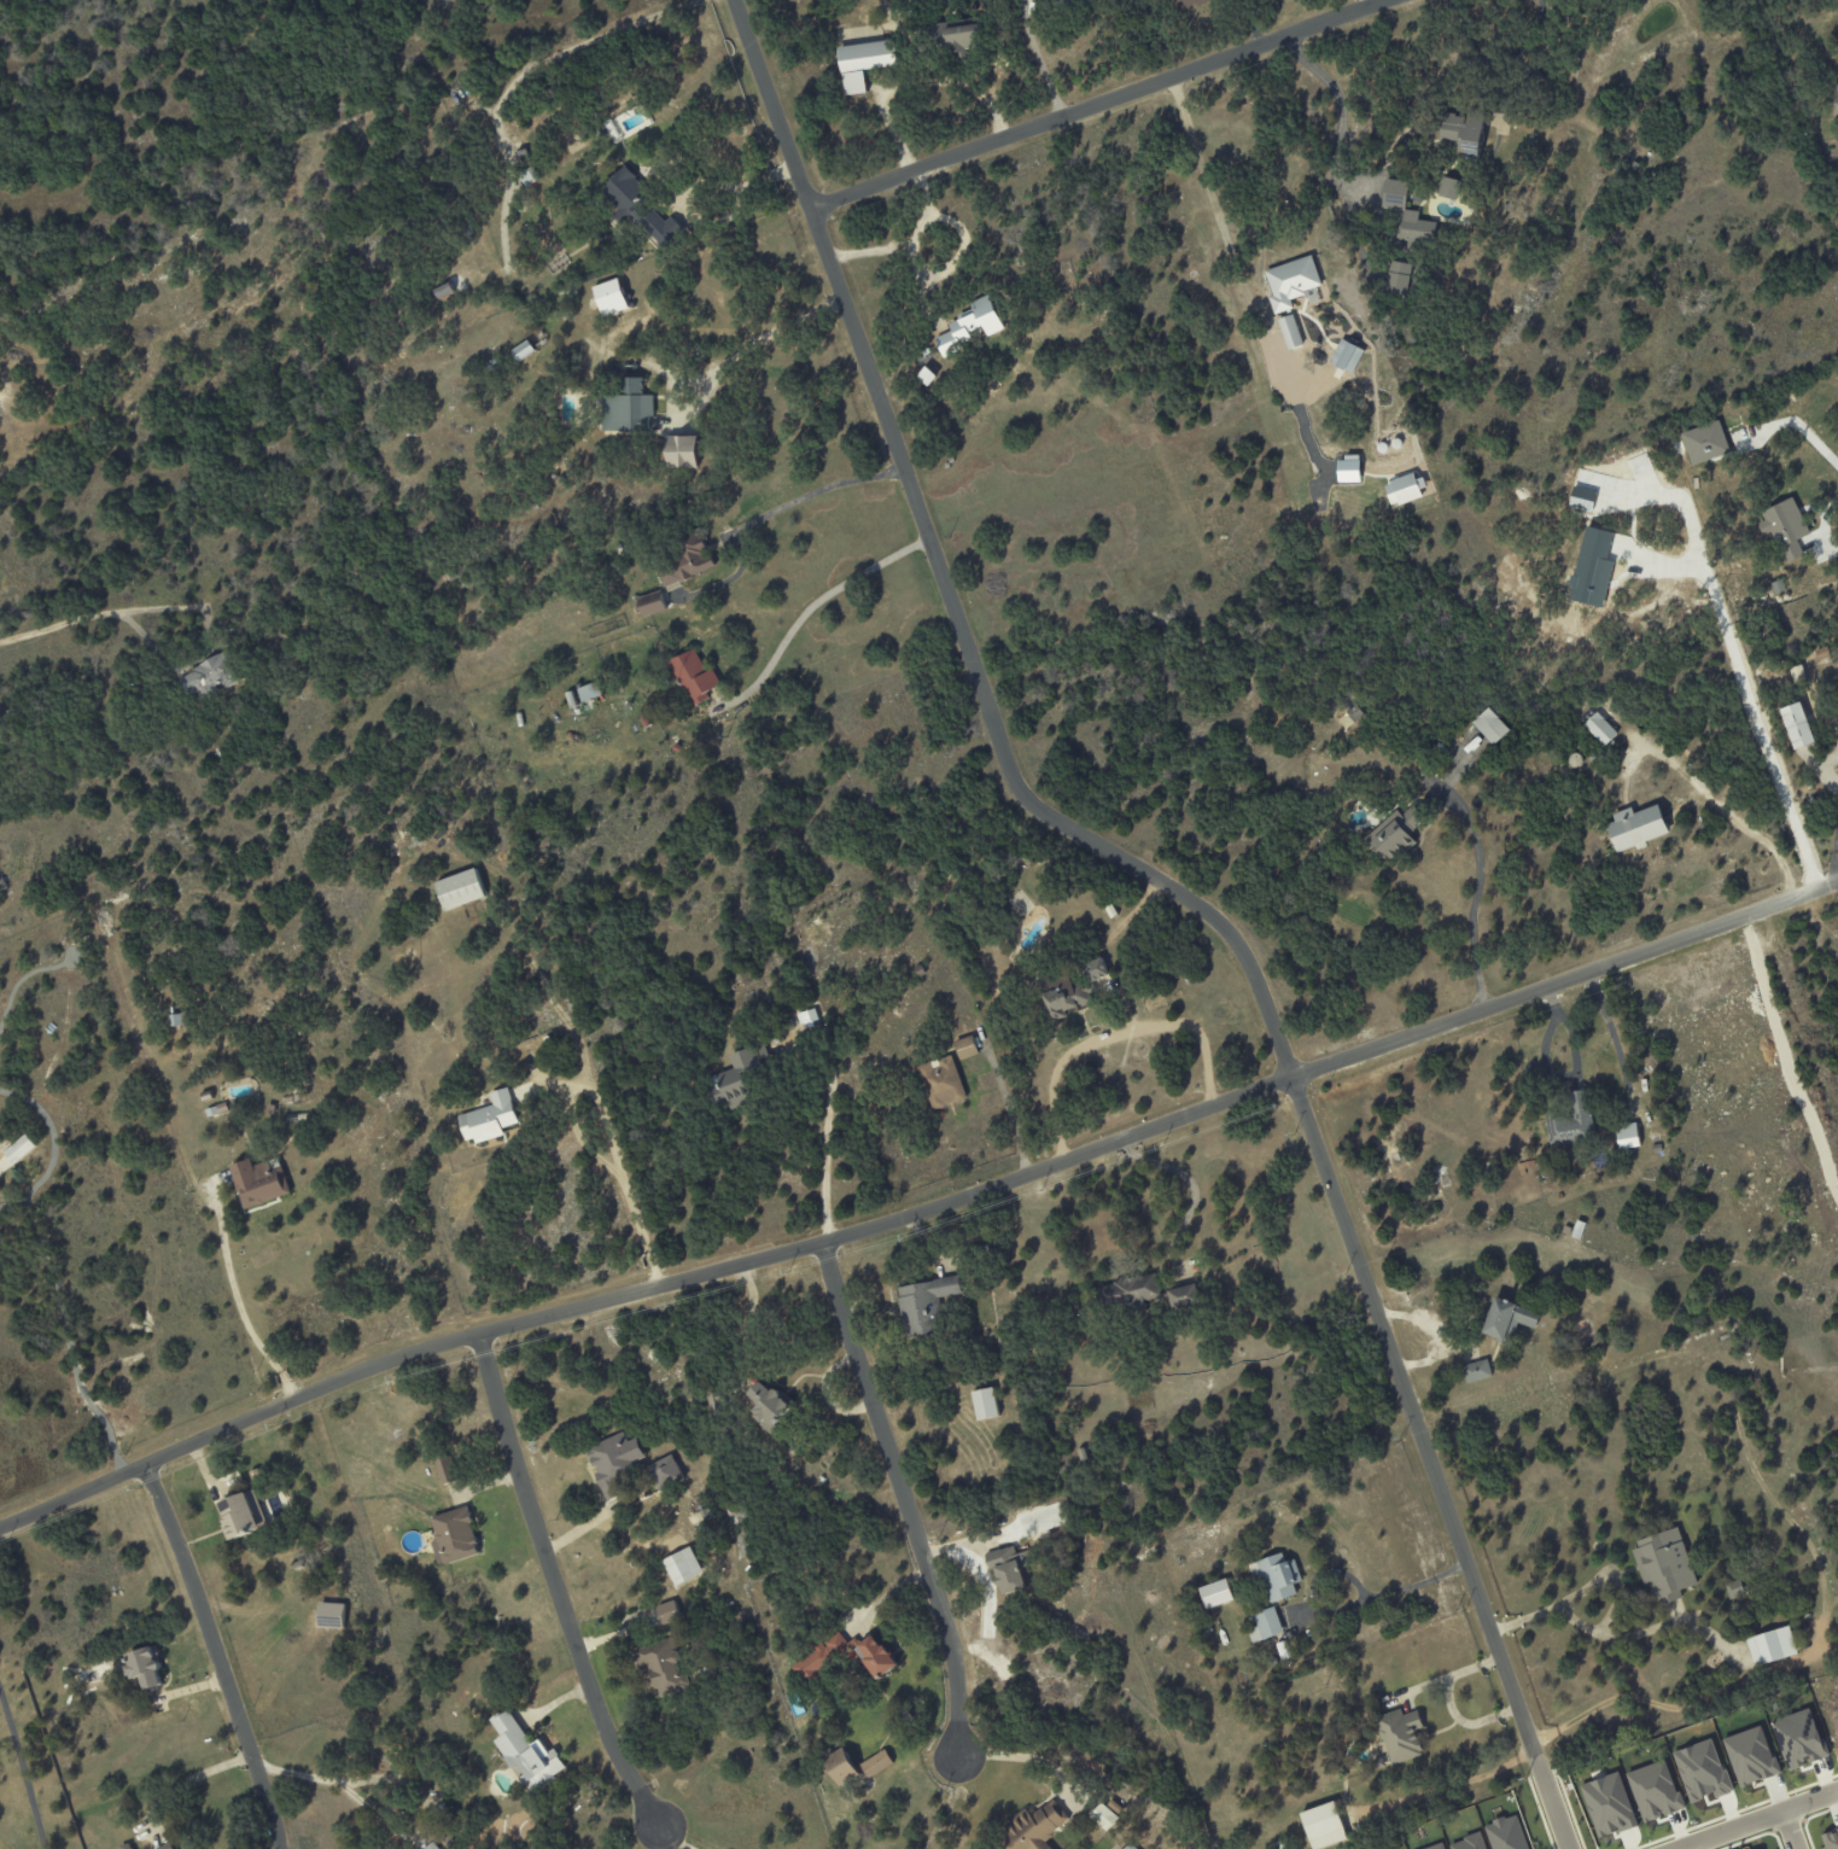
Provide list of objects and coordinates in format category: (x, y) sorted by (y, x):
building: (1188, 2)
building: (955, 37)
road: (1495, 59)
building: (864, 63)
road: (912, 80)
building: (1836, 99)
road: (1098, 105)
building: (1461, 133)
road: (1336, 142)
building: (529, 175)
building: (1449, 188)
building: (1394, 194)
building: (637, 206)
road: (924, 209)
building: (1416, 228)
road: (1227, 233)
road: (905, 245)
building: (1398, 278)
building: (1290, 281)
building: (443, 290)
building: (611, 297)
building: (970, 326)
road: (770, 332)
building: (1289, 332)
building: (523, 350)
building: (1346, 355)
building: (926, 377)
building: (626, 408)
building: (1704, 442)
building: (682, 451)
building: (1348, 468)
building: (1402, 489)
road: (764, 517)
building: (1784, 529)
road: (1822, 531)
building: (682, 565)
road: (811, 600)
building: (649, 603)
road: (83, 616)
building: (1821, 653)
building: (209, 676)
building: (693, 676)
building: (590, 692)
road: (1747, 700)
building: (1354, 713)
building: (1490, 725)
building: (1796, 725)
building: (1599, 728)
road: (1722, 803)
building: (1635, 827)
building: (1395, 836)
road: (1836, 861)
building: (4, 882)
building: (463, 887)
road: (1476, 892)
road: (1183, 894)
building: (885, 957)
building: (918, 969)
building: (1072, 990)
building: (807, 1016)
building: (179, 1020)
road: (1609, 1026)
road: (1110, 1033)
building: (964, 1048)
building: (735, 1075)
road: (1575, 1075)
building: (939, 1081)
building: (240, 1102)
building: (274, 1108)
building: (221, 1109)
building: (494, 1116)
building: (1570, 1120)
building: (1624, 1135)
road: (827, 1138)
building: (19, 1148)
road: (622, 1173)
building: (262, 1182)
road: (1194, 1185)
building: (1559, 1195)
road: (918, 1211)
building: (1577, 1229)
building: (1566, 1230)
building: (974, 1252)
road: (653, 1268)
building: (1143, 1294)
building: (923, 1305)
road: (240, 1308)
building: (1506, 1320)
building: (949, 1365)
building: (1476, 1370)
building: (985, 1404)
building: (769, 1406)
building: (1081, 1454)
building: (617, 1462)
building: (448, 1470)
building: (669, 1472)
road: (902, 1497)
building: (708, 1512)
building: (244, 1513)
building: (683, 1523)
building: (460, 1535)
building: (299, 1563)
building: (1663, 1564)
building: (682, 1565)
building: (1010, 1568)
building: (751, 1569)
building: (308, 1571)
building: (1276, 1575)
road: (1604, 1577)
building: (310, 1580)
road: (555, 1585)
building: (1734, 1590)
building: (1215, 1593)
road: (1379, 1593)
building: (670, 1612)
building: (331, 1615)
building: (1264, 1625)
building: (1206, 1628)
building: (1770, 1646)
building: (1282, 1650)
road: (217, 1656)
building: (822, 1660)
building: (1270, 1662)
building: (666, 1666)
building: (147, 1668)
road: (1722, 1690)
building: (1384, 1698)
building: (1399, 1734)
building: (1798, 1737)
building: (530, 1750)
building: (1749, 1754)
road: (1020, 1756)
building: (876, 1763)
building: (1377, 1763)
building: (840, 1766)
building: (1702, 1769)
road: (21, 1771)
road: (325, 1778)
building: (1653, 1790)
building: (1607, 1803)
building: (1116, 1806)
building: (1103, 1816)
road: (1756, 1819)
building: (1321, 1821)
building: (1034, 1827)
road: (1791, 1830)
building: (1830, 1838)
building: (129, 1847)
building: (171, 1847)
building: (436, 1847)
building: (1128, 1847)
building: (1757, 1848)

